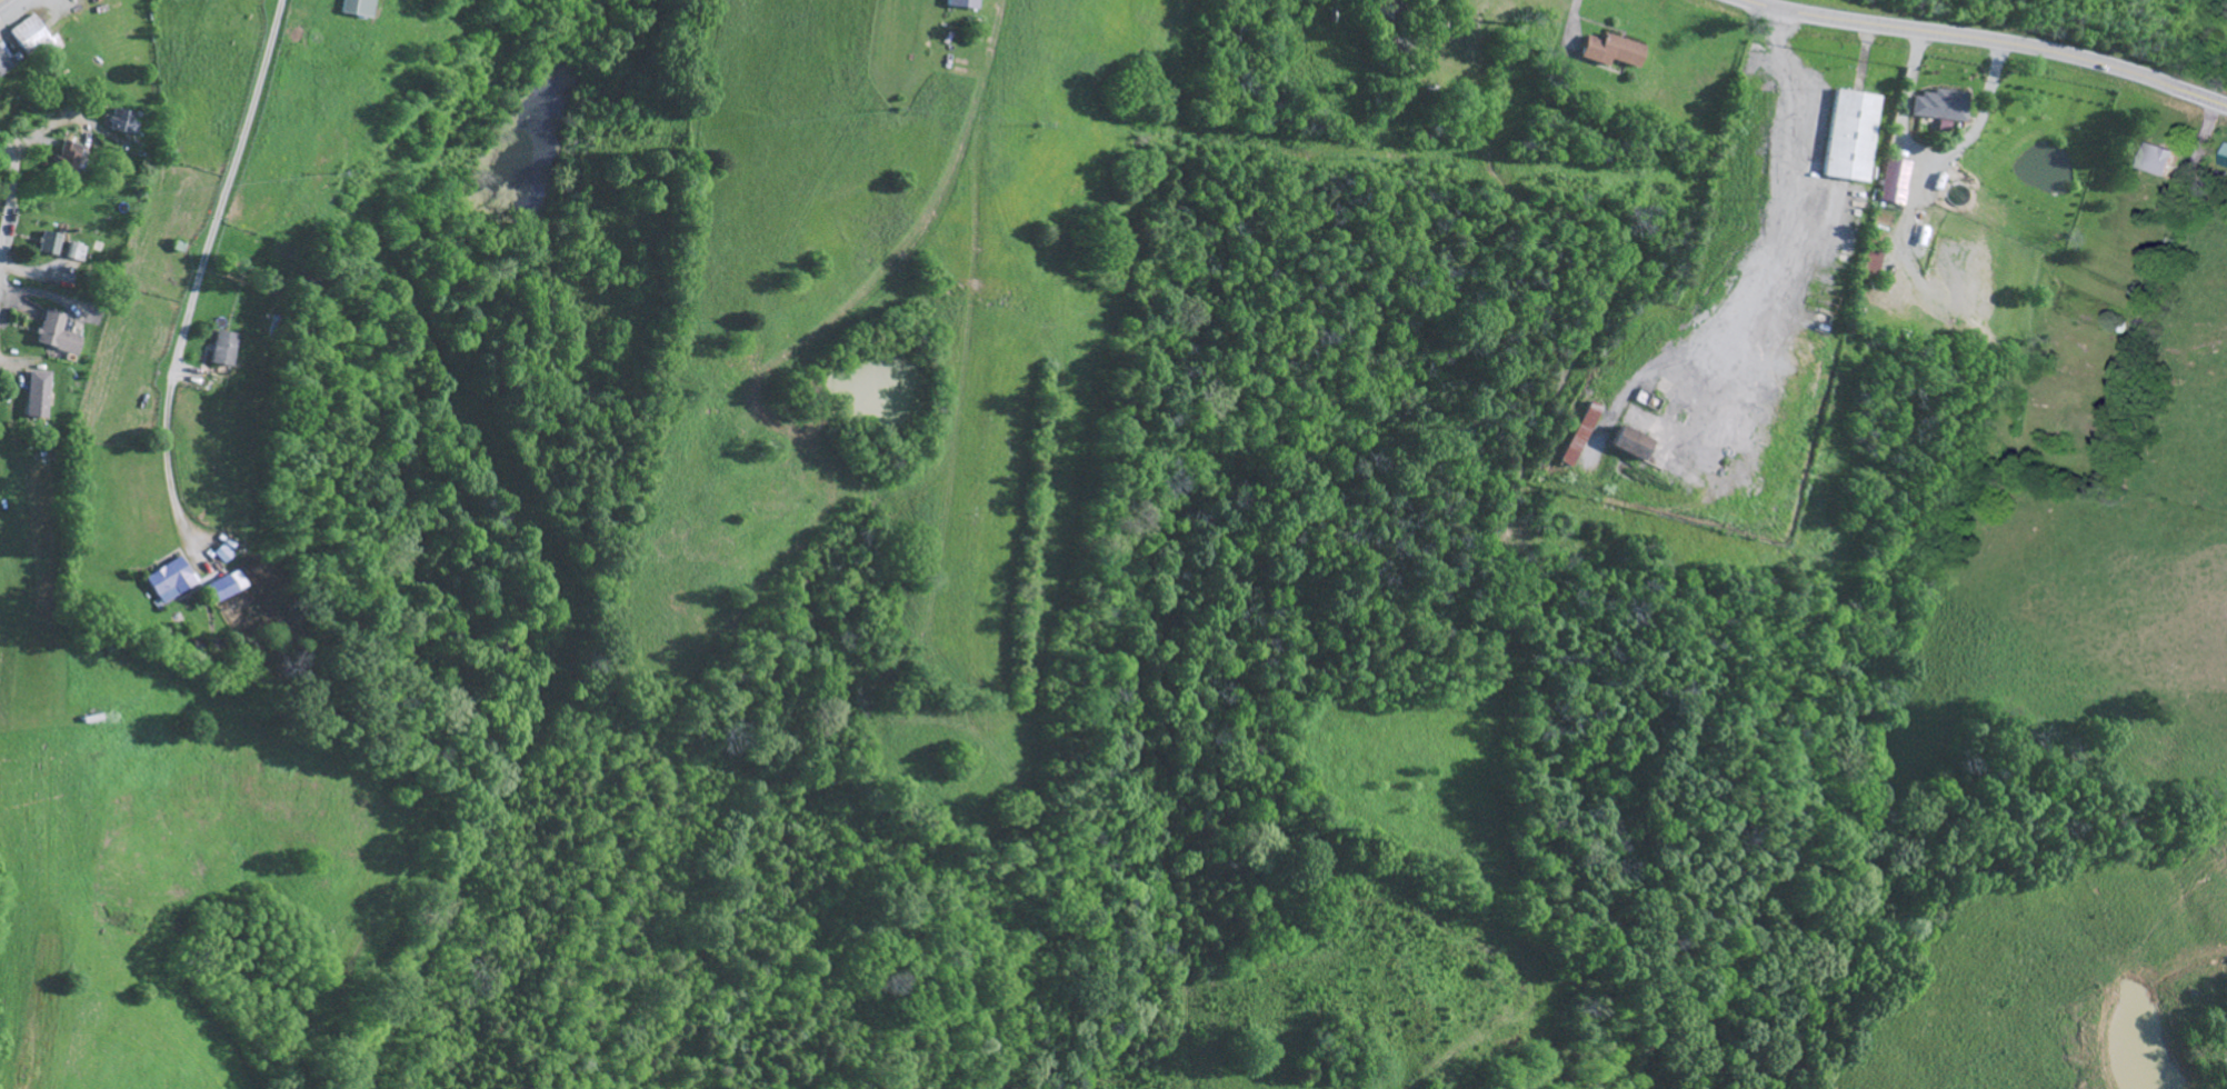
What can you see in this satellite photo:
road: (1, 0)
building: (961, 4)
building: (357, 8)
building: (33, 39)
road: (1993, 40)
building: (1608, 51)
building: (3, 62)
building: (1938, 107)
building: (121, 122)
building: (1849, 137)
building: (2160, 160)
building: (2225, 161)
building: (66, 163)
building: (1894, 182)
road: (11, 199)
building: (49, 244)
building: (1870, 263)
road: (200, 267)
building: (57, 336)
building: (221, 350)
building: (37, 396)
building: (1580, 436)
building: (1629, 444)
building: (168, 581)
building: (223, 588)

